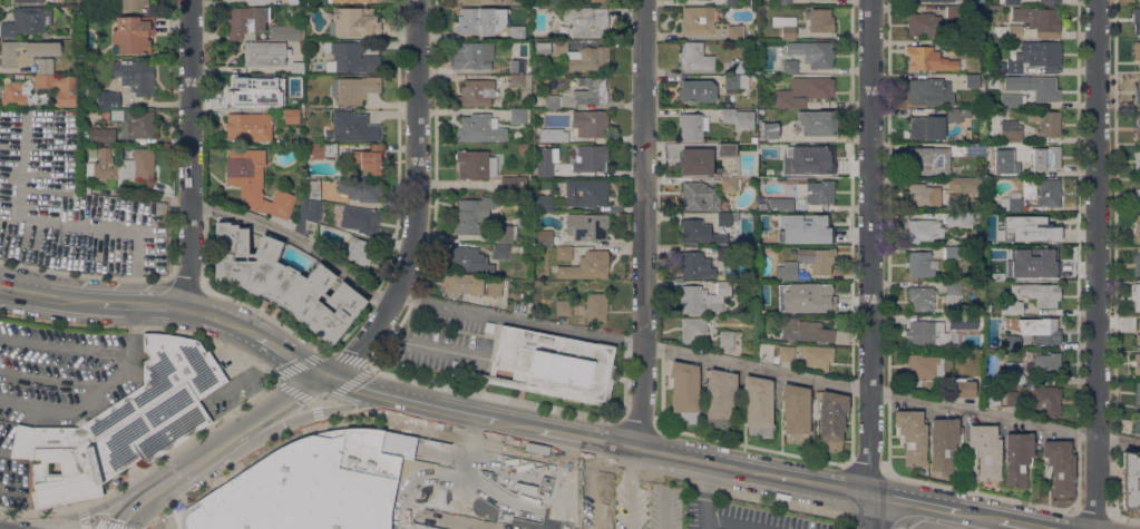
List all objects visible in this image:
building: (470, 0)
building: (595, 0)
building: (941, 0)
building: (1137, 0)
building: (1139, 0)
building: (30, 1)
building: (295, 1)
building: (351, 1)
building: (733, 1)
building: (1012, 1)
building: (1049, 1)
building: (259, 2)
building: (783, 2)
building: (133, 4)
building: (953, 11)
building: (1037, 18)
building: (819, 19)
building: (1136, 19)
building: (26, 20)
building: (478, 20)
building: (587, 20)
building: (698, 20)
building: (355, 22)
building: (924, 23)
building: (259, 25)
building: (785, 26)
building: (516, 31)
building: (735, 31)
building: (1015, 32)
building: (133, 33)
building: (543, 47)
building: (956, 47)
building: (26, 51)
building: (813, 52)
building: (1137, 52)
building: (265, 53)
building: (1042, 53)
building: (472, 55)
building: (583, 56)
building: (695, 56)
building: (349, 57)
building: (923, 57)
building: (298, 66)
building: (517, 66)
building: (739, 66)
building: (789, 66)
building: (1013, 67)
building: (136, 76)
building: (520, 80)
building: (972, 80)
building: (56, 81)
building: (735, 81)
building: (1034, 86)
building: (243, 87)
building: (355, 88)
building: (591, 90)
building: (696, 90)
building: (803, 90)
building: (929, 91)
building: (476, 92)
building: (1137, 92)
building: (12, 95)
building: (106, 99)
building: (118, 100)
building: (269, 100)
building: (1011, 100)
building: (547, 101)
building: (116, 114)
building: (516, 115)
building: (957, 115)
building: (290, 116)
building: (739, 117)
building: (816, 121)
building: (591, 123)
building: (1045, 123)
building: (142, 124)
building: (692, 126)
building: (1137, 126)
building: (249, 127)
building: (352, 127)
building: (923, 127)
building: (478, 128)
building: (1010, 128)
building: (769, 129)
building: (101, 134)
building: (553, 135)
building: (753, 139)
building: (309, 141)
building: (724, 149)
building: (975, 149)
building: (320, 150)
road: (189, 154)
building: (367, 157)
building: (587, 157)
building: (1046, 157)
building: (821, 159)
building: (546, 160)
building: (694, 160)
building: (928, 160)
building: (1137, 160)
building: (733, 161)
building: (475, 164)
building: (120, 165)
building: (788, 165)
building: (1006, 165)
building: (514, 184)
building: (731, 184)
building: (965, 184)
building: (312, 189)
building: (361, 189)
building: (816, 190)
building: (586, 192)
building: (1049, 193)
building: (251, 195)
building: (700, 196)
building: (922, 196)
building: (1137, 197)
building: (1014, 200)
parking lot: (68, 203)
building: (544, 203)
building: (781, 203)
road: (417, 204)
building: (474, 214)
building: (959, 217)
building: (360, 218)
building: (724, 218)
road: (643, 224)
building: (1045, 225)
building: (586, 226)
building: (820, 226)
building: (1137, 227)
building: (925, 229)
building: (506, 233)
building: (700, 233)
building: (543, 237)
building: (782, 237)
building: (1009, 238)
road: (296, 241)
building: (514, 248)
building: (520, 248)
building: (358, 251)
building: (500, 252)
building: (722, 252)
building: (563, 253)
building: (952, 253)
road: (1114, 257)
building: (469, 259)
building: (817, 259)
building: (1040, 259)
building: (695, 264)
road: (869, 264)
building: (919, 264)
road: (1095, 264)
building: (1137, 264)
building: (586, 266)
building: (787, 271)
building: (1004, 271)
road: (84, 273)
road: (184, 280)
building: (283, 281)
building: (461, 283)
building: (495, 287)
road: (28, 292)
building: (954, 292)
building: (1039, 293)
building: (819, 296)
building: (703, 297)
building: (922, 297)
road: (76, 300)
building: (1137, 302)
road: (139, 303)
building: (787, 304)
building: (596, 306)
building: (1012, 306)
building: (563, 307)
building: (987, 307)
road: (265, 313)
road: (222, 319)
building: (963, 322)
road: (135, 325)
road: (144, 326)
building: (488, 327)
building: (693, 330)
building: (805, 330)
building: (1048, 331)
building: (927, 334)
building: (1137, 335)
building: (731, 339)
building: (1013, 342)
parking lot: (444, 343)
road: (65, 346)
building: (785, 353)
road: (291, 356)
building: (817, 356)
building: (1137, 363)
building: (553, 364)
building: (1045, 364)
building: (925, 365)
road: (768, 369)
building: (1014, 372)
traffic signals: (324, 376)
road: (281, 381)
building: (962, 386)
building: (684, 390)
building: (993, 391)
road: (493, 394)
building: (1137, 394)
building: (719, 398)
building: (1013, 398)
road: (399, 399)
building: (1046, 399)
building: (758, 404)
road: (78, 405)
road: (279, 405)
road: (318, 411)
road: (308, 413)
building: (796, 413)
road: (488, 419)
building: (831, 419)
road: (636, 422)
building: (120, 423)
building: (1137, 423)
road: (520, 427)
road: (294, 430)
building: (912, 434)
road: (587, 440)
road: (751, 443)
building: (943, 443)
road: (181, 445)
building: (986, 450)
road: (525, 451)
road: (207, 454)
building: (1017, 458)
road: (705, 462)
road: (864, 466)
building: (1060, 466)
road: (464, 467)
road: (642, 473)
road: (451, 479)
building: (1130, 481)
road: (166, 482)
building: (309, 484)
road: (821, 486)
road: (977, 491)
road: (703, 496)
road: (783, 502)
road: (913, 502)
road: (131, 509)
road: (80, 511)
road: (39, 512)
road: (1091, 512)
road: (77, 516)
road: (978, 516)
road: (1123, 516)
road: (466, 520)
road: (80, 522)
road: (105, 522)
road: (870, 522)
road: (1022, 523)
road: (725, 525)
building: (420, 527)

